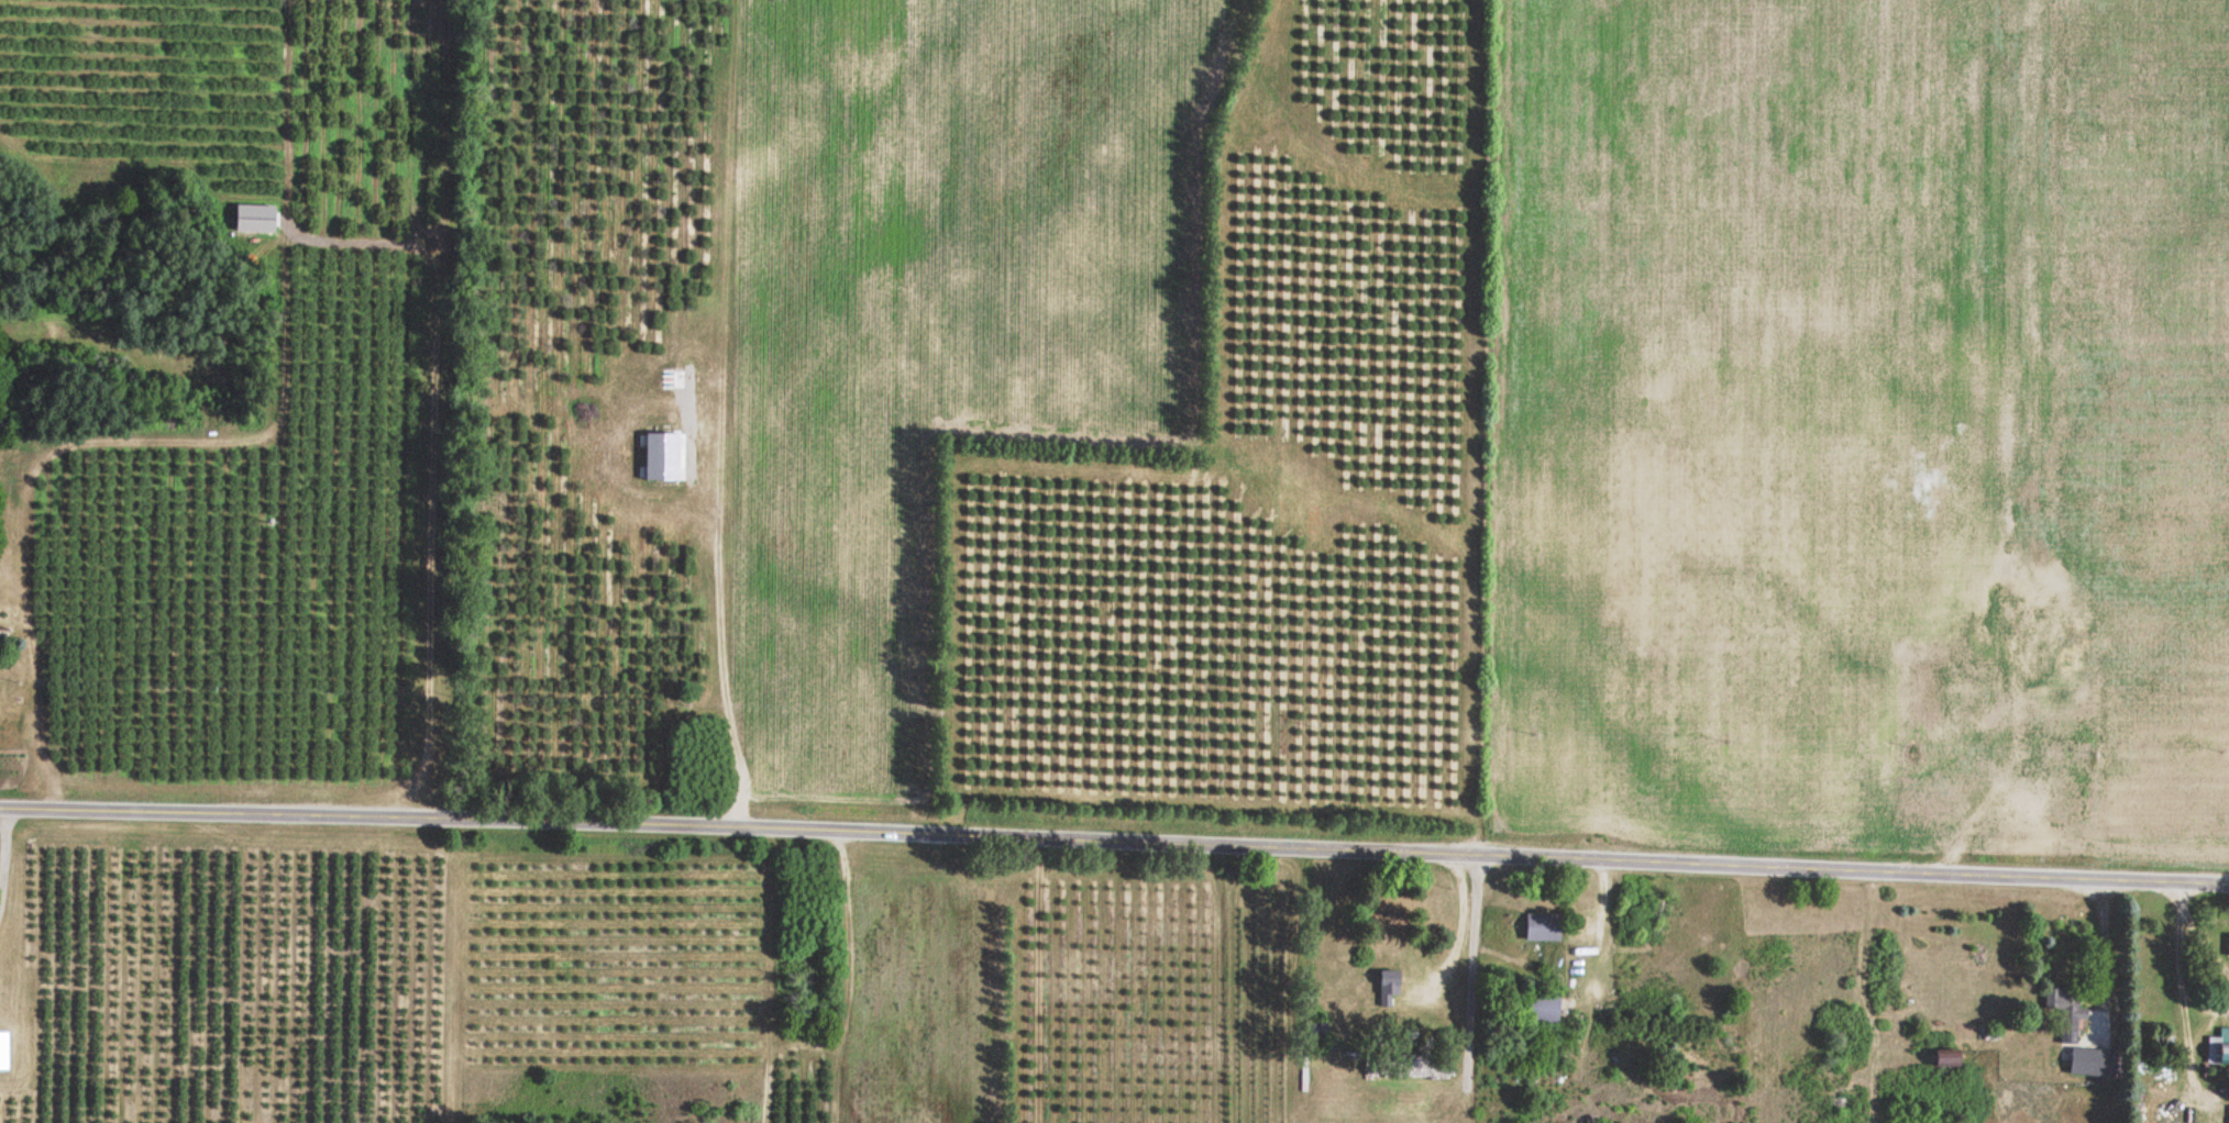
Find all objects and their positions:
building: (2038, 625)
building: (1, 641)
road: (631, 671)
building: (2017, 812)
road: (1114, 840)
building: (1540, 929)
building: (2228, 947)
building: (1386, 988)
building: (1541, 1010)
building: (2066, 1015)
building: (2217, 1049)
building: (1, 1052)
building: (1943, 1060)
building: (2089, 1064)
building: (2228, 1114)

